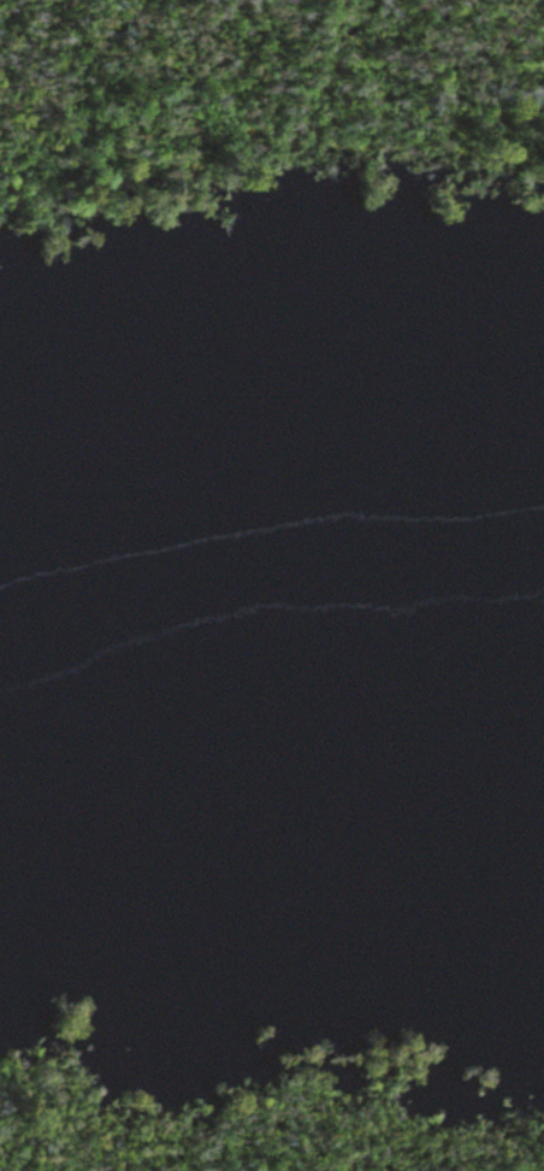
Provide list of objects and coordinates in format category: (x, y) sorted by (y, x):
river: (272, 714)

